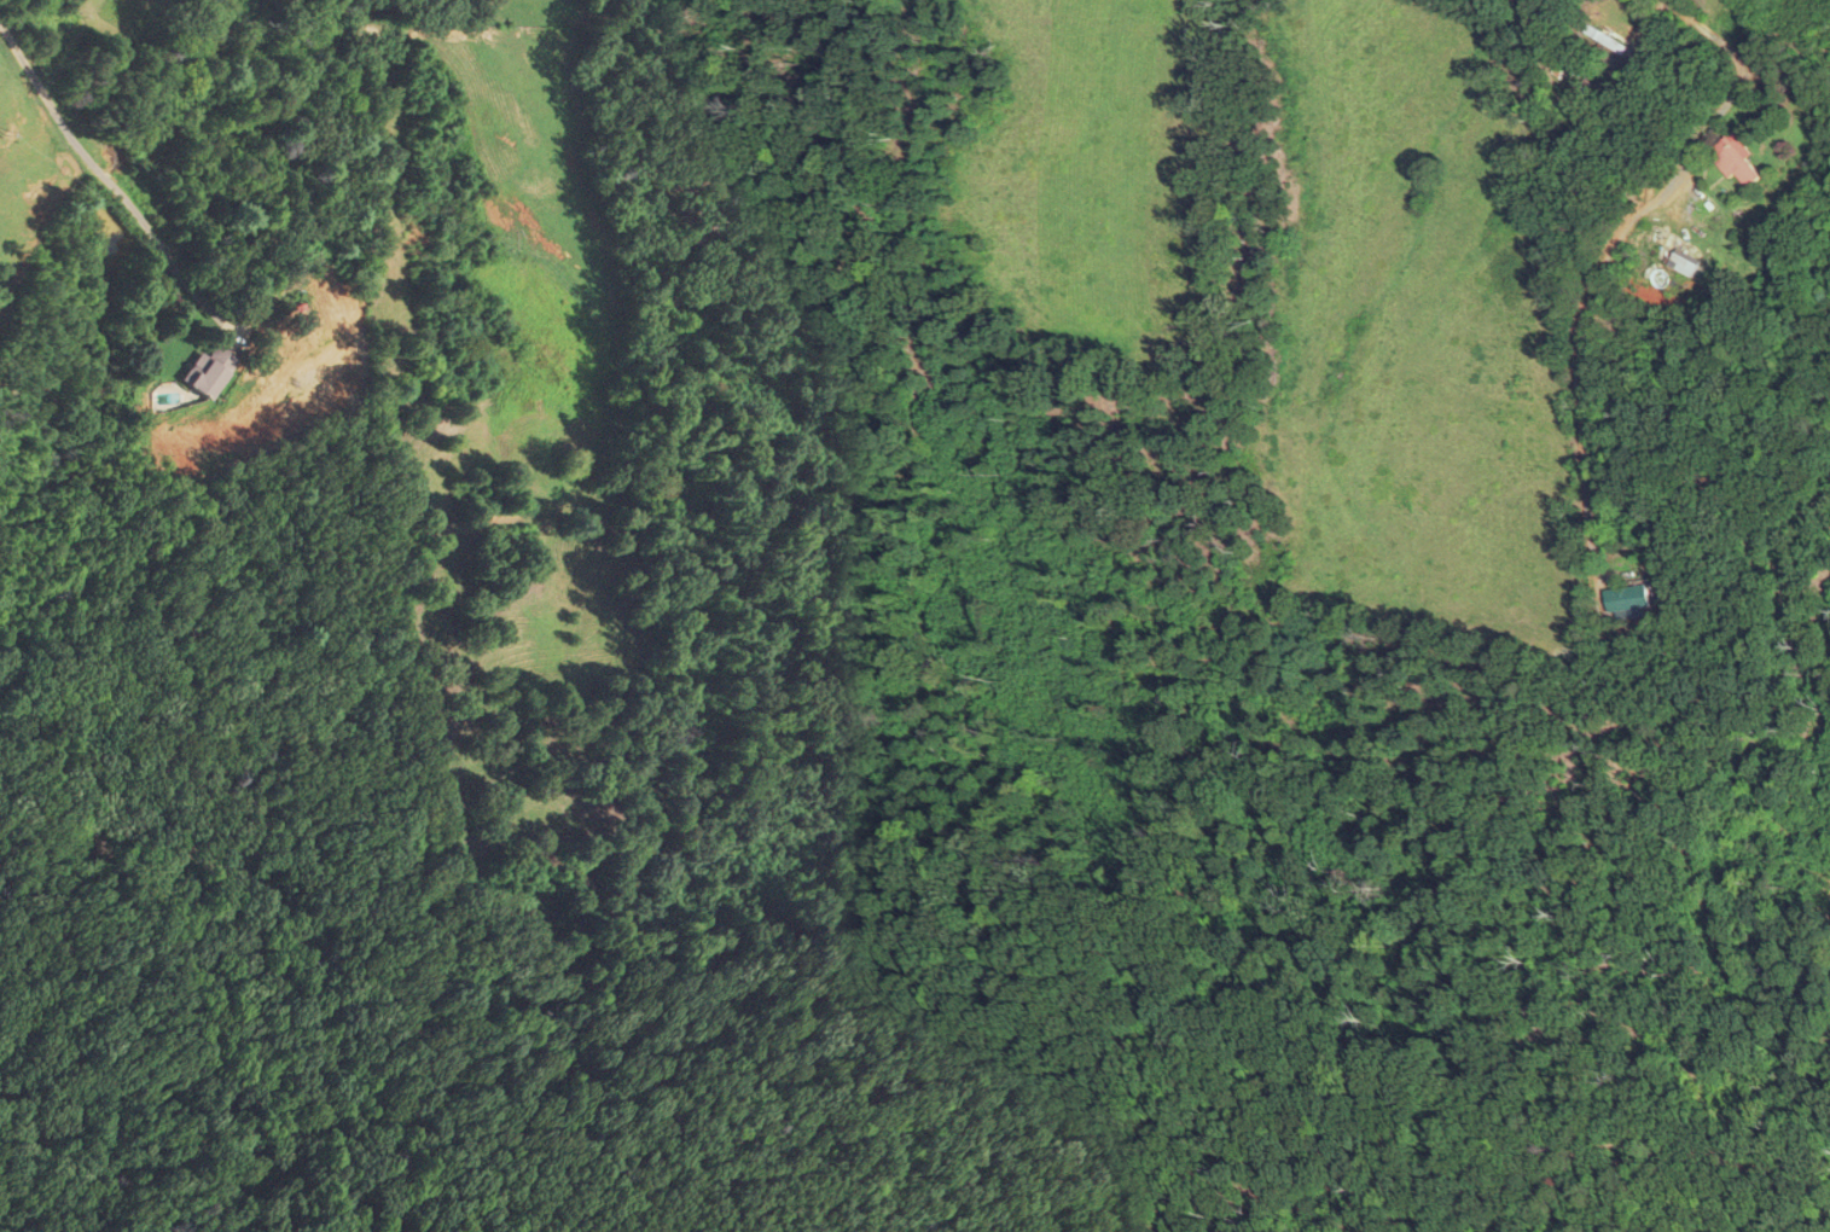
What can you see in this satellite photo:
building: (1735, 161)
road: (1695, 180)
building: (1681, 265)
building: (210, 372)
building: (1626, 598)

